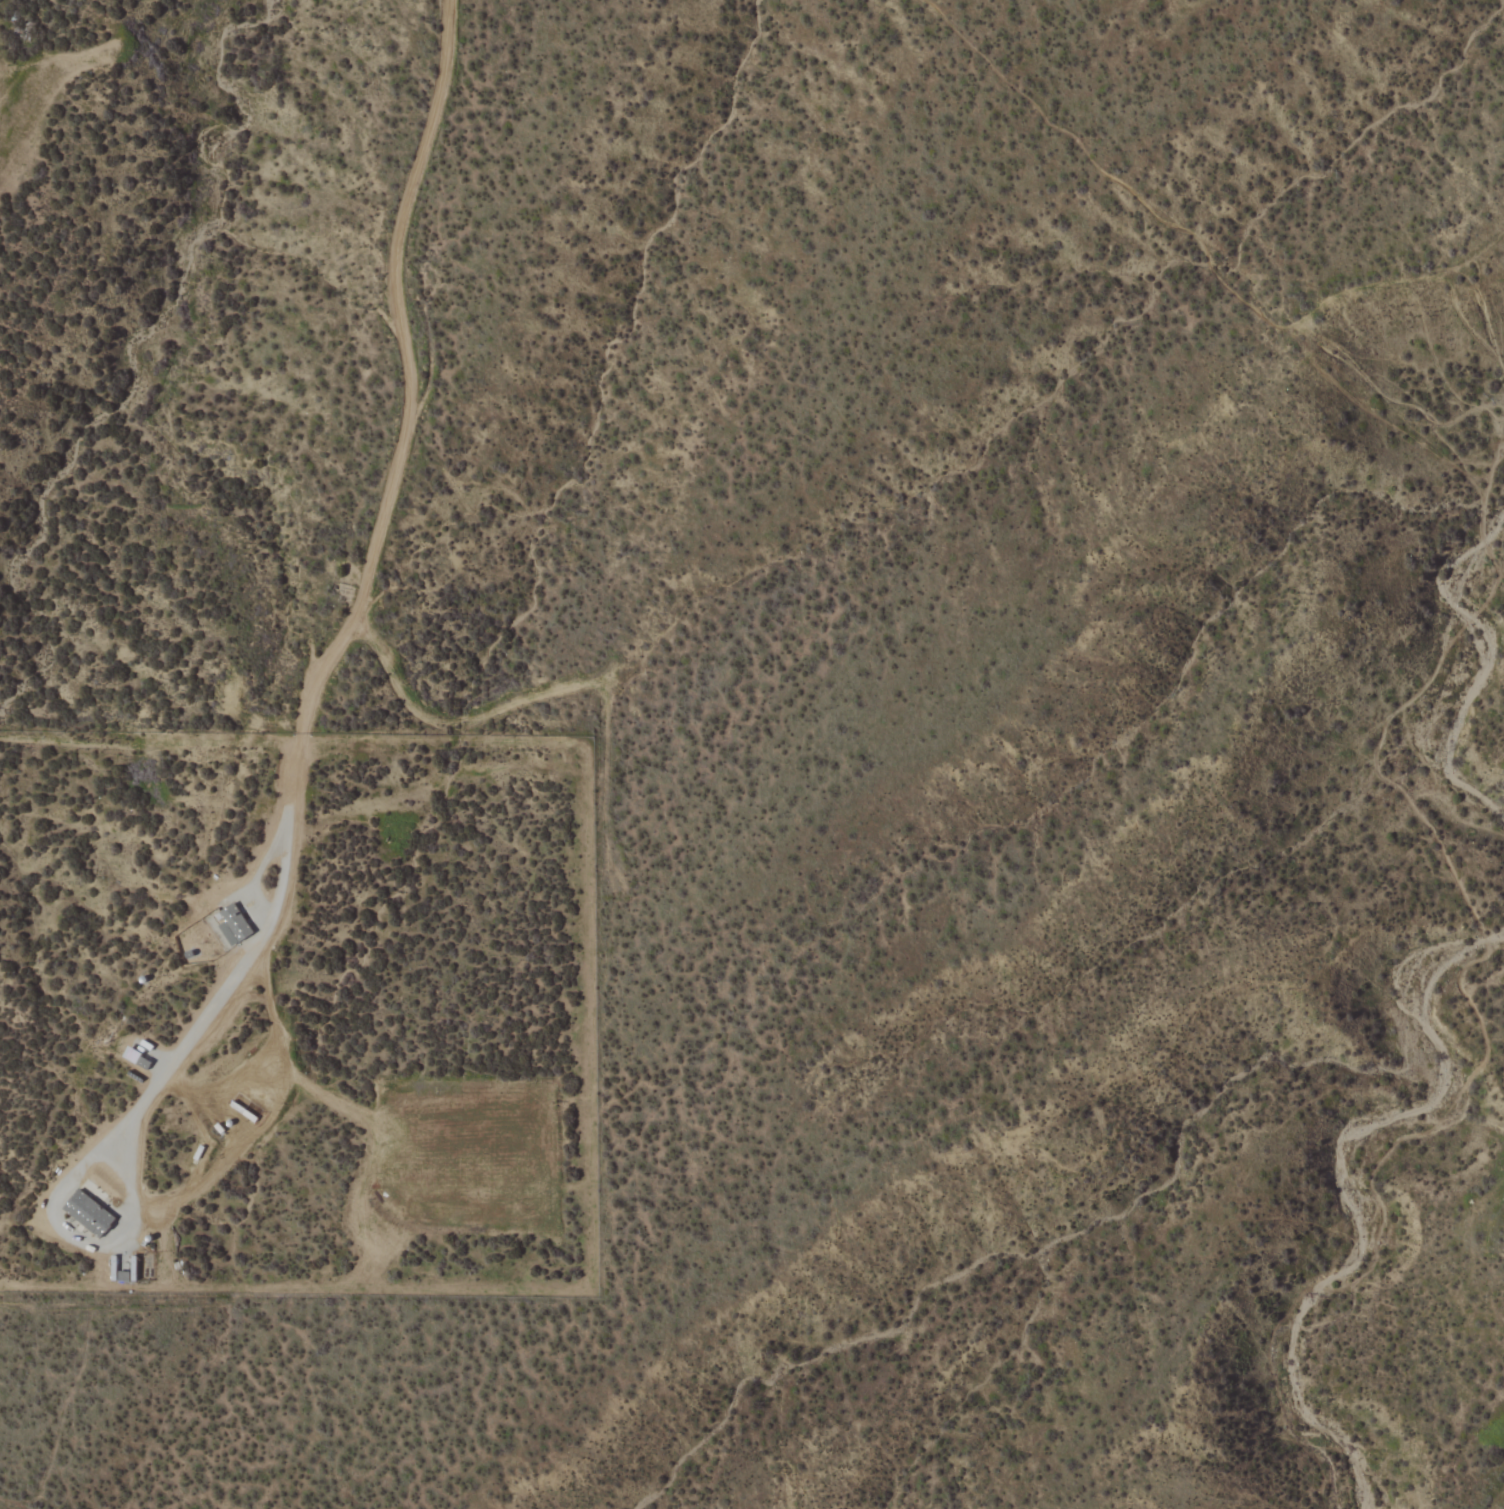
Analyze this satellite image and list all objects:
road: (406, 375)
building: (232, 925)
road: (153, 1074)
building: (87, 1212)

